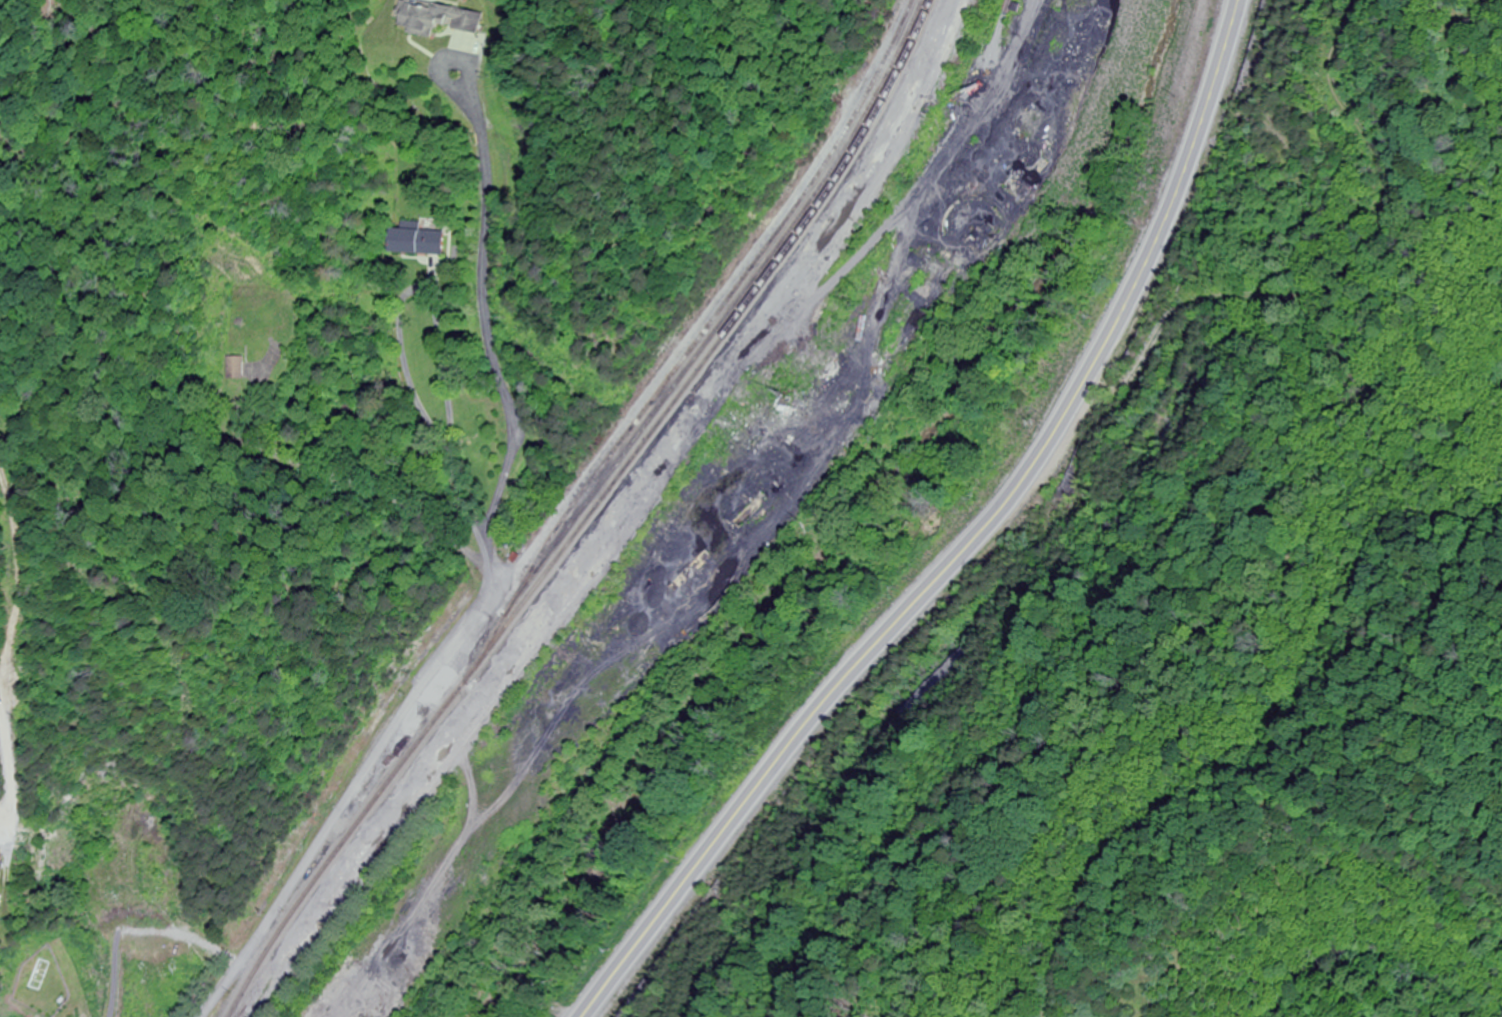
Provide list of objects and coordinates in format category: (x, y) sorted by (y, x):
building: (436, 18)
railway: (891, 163)
building: (416, 241)
railway: (727, 303)
road: (486, 305)
railway: (710, 340)
building: (242, 369)
building: (708, 403)
road: (438, 416)
road: (386, 497)
railway: (637, 500)
railway: (592, 513)
railway: (611, 518)
road: (965, 543)
building: (443, 687)
railway: (475, 733)
road: (15, 754)
road: (361, 779)
road: (143, 931)
building: (353, 972)
park: (46, 982)
road: (28, 1010)
building: (322, 1010)

